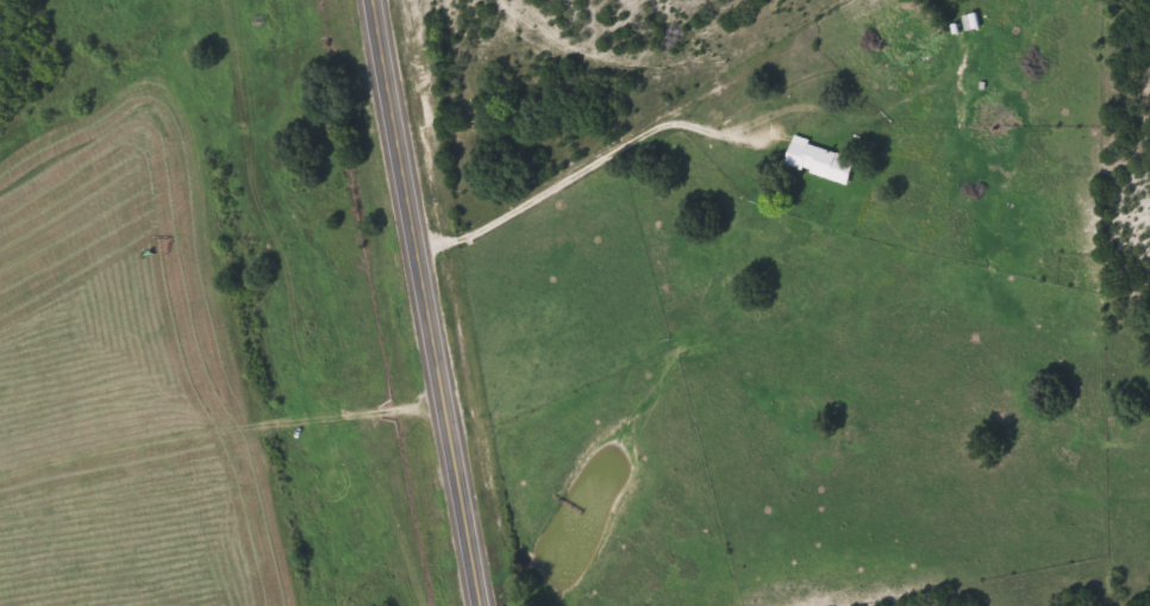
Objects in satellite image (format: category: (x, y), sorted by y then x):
building: (815, 158)
road: (245, 287)
road: (436, 302)

